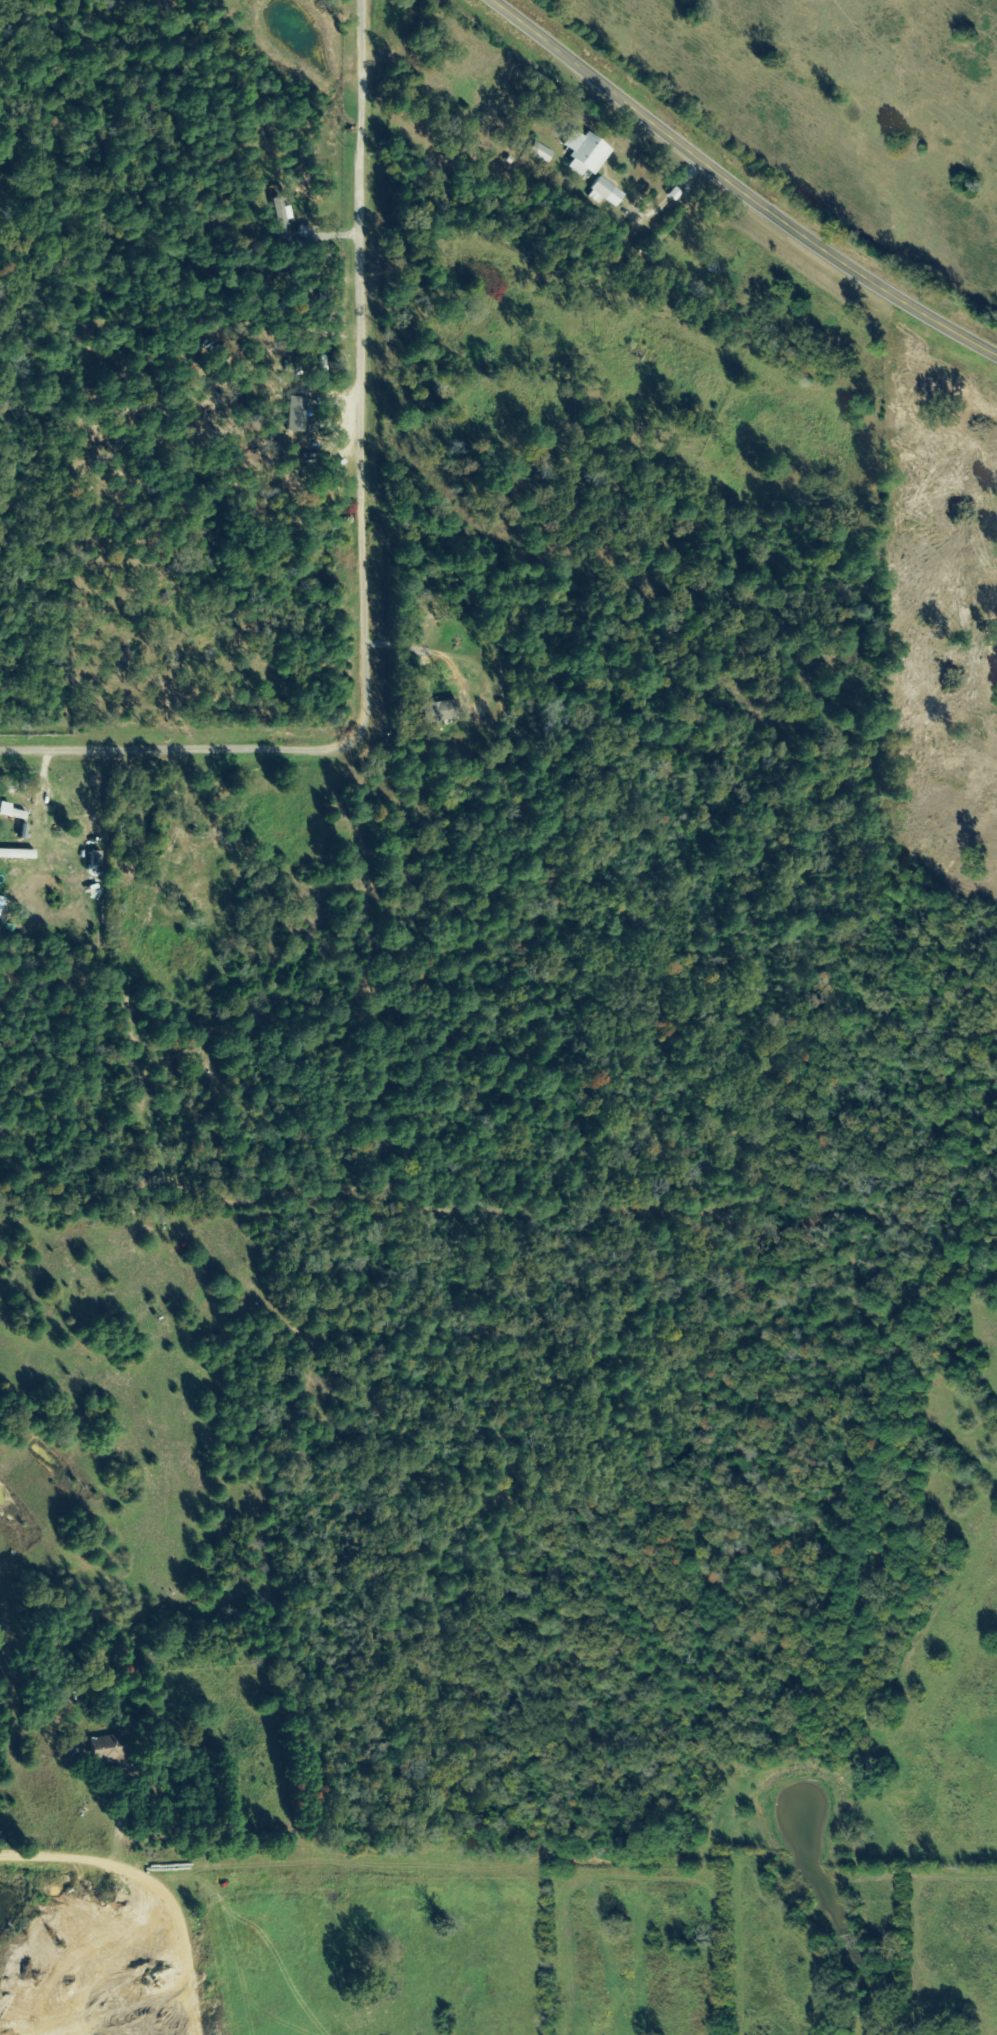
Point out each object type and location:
building: (540, 153)
building: (585, 154)
road: (744, 183)
building: (606, 192)
road: (37, 321)
building: (295, 415)
road: (370, 553)
building: (441, 706)
building: (11, 812)
building: (1, 907)
building: (105, 1749)
road: (531, 1860)

